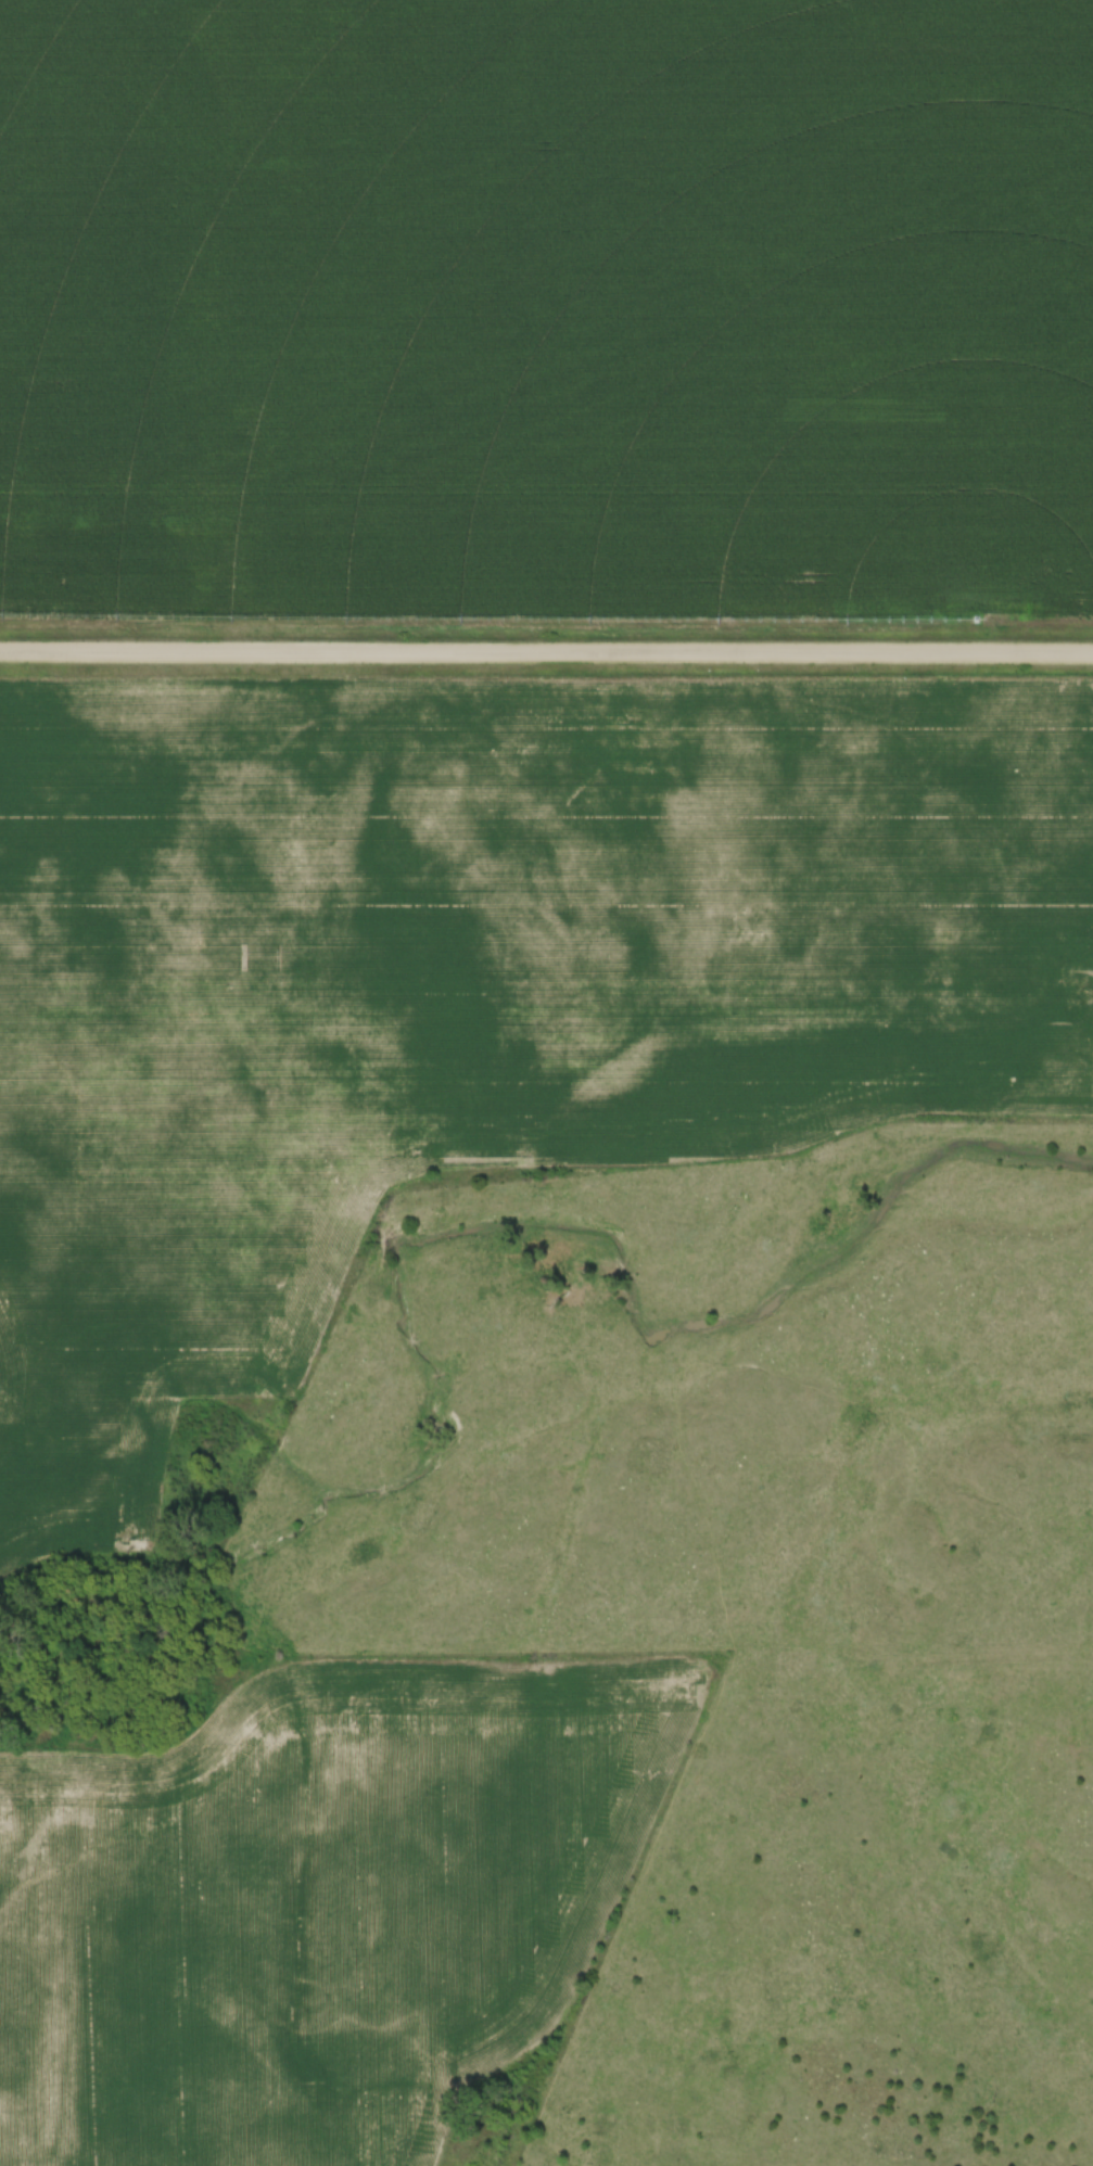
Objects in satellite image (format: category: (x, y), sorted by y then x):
road: (546, 652)

